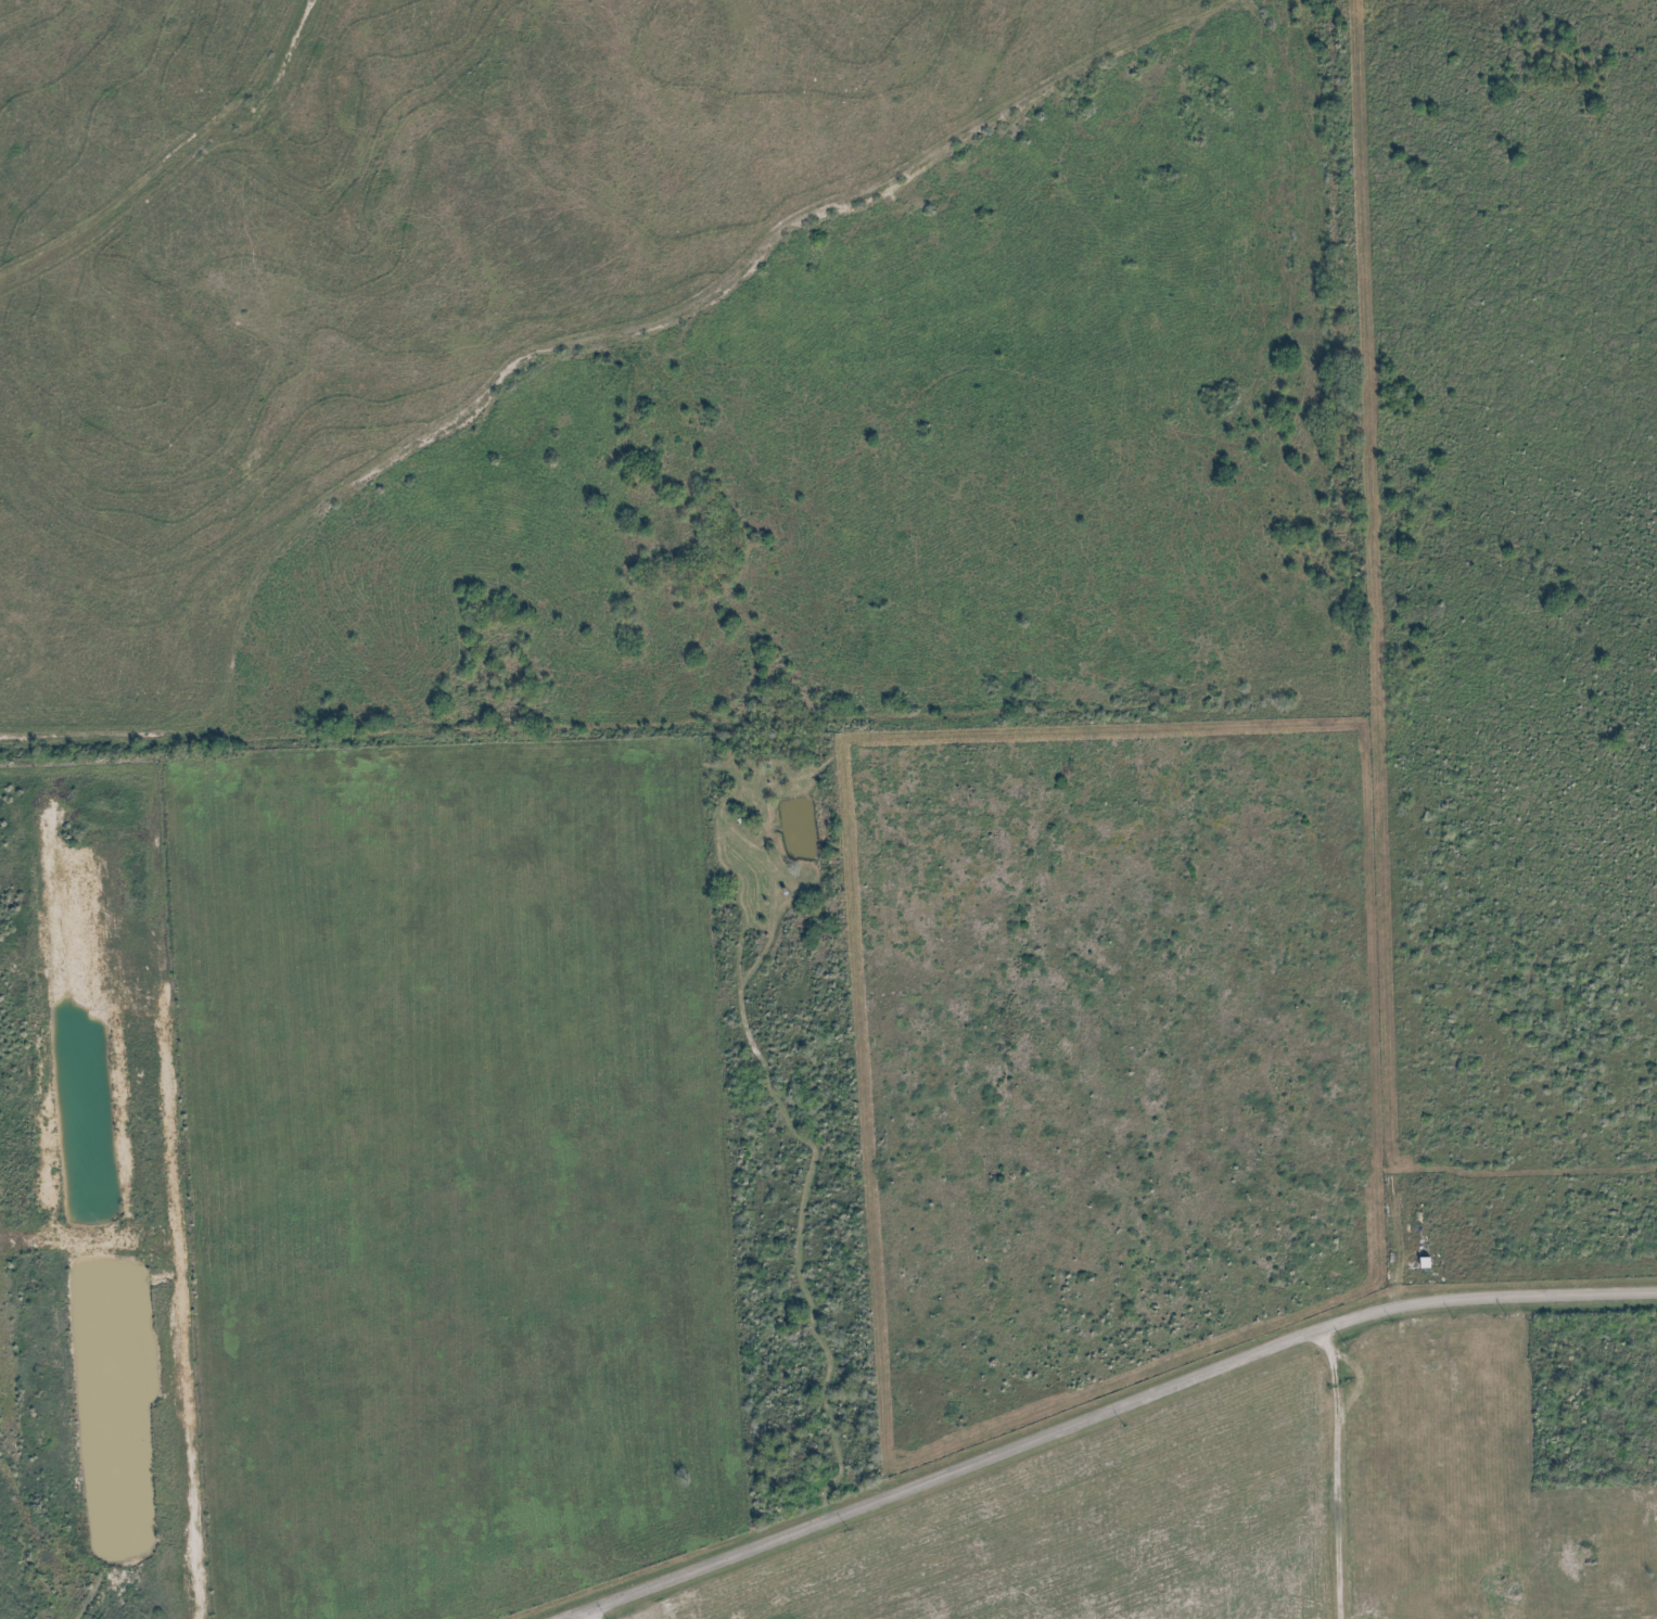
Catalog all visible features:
road: (1110, 1415)
road: (1336, 1474)
road: (592, 1617)

